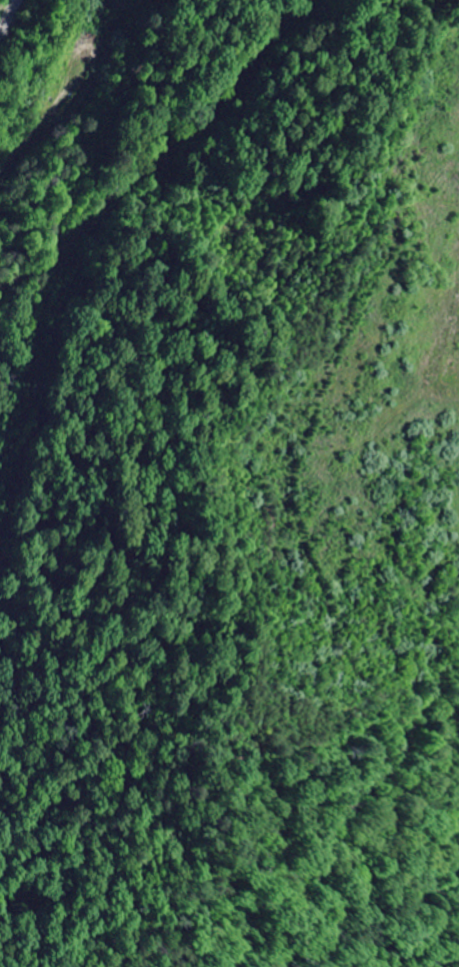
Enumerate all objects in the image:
quarry: (233, 100)

